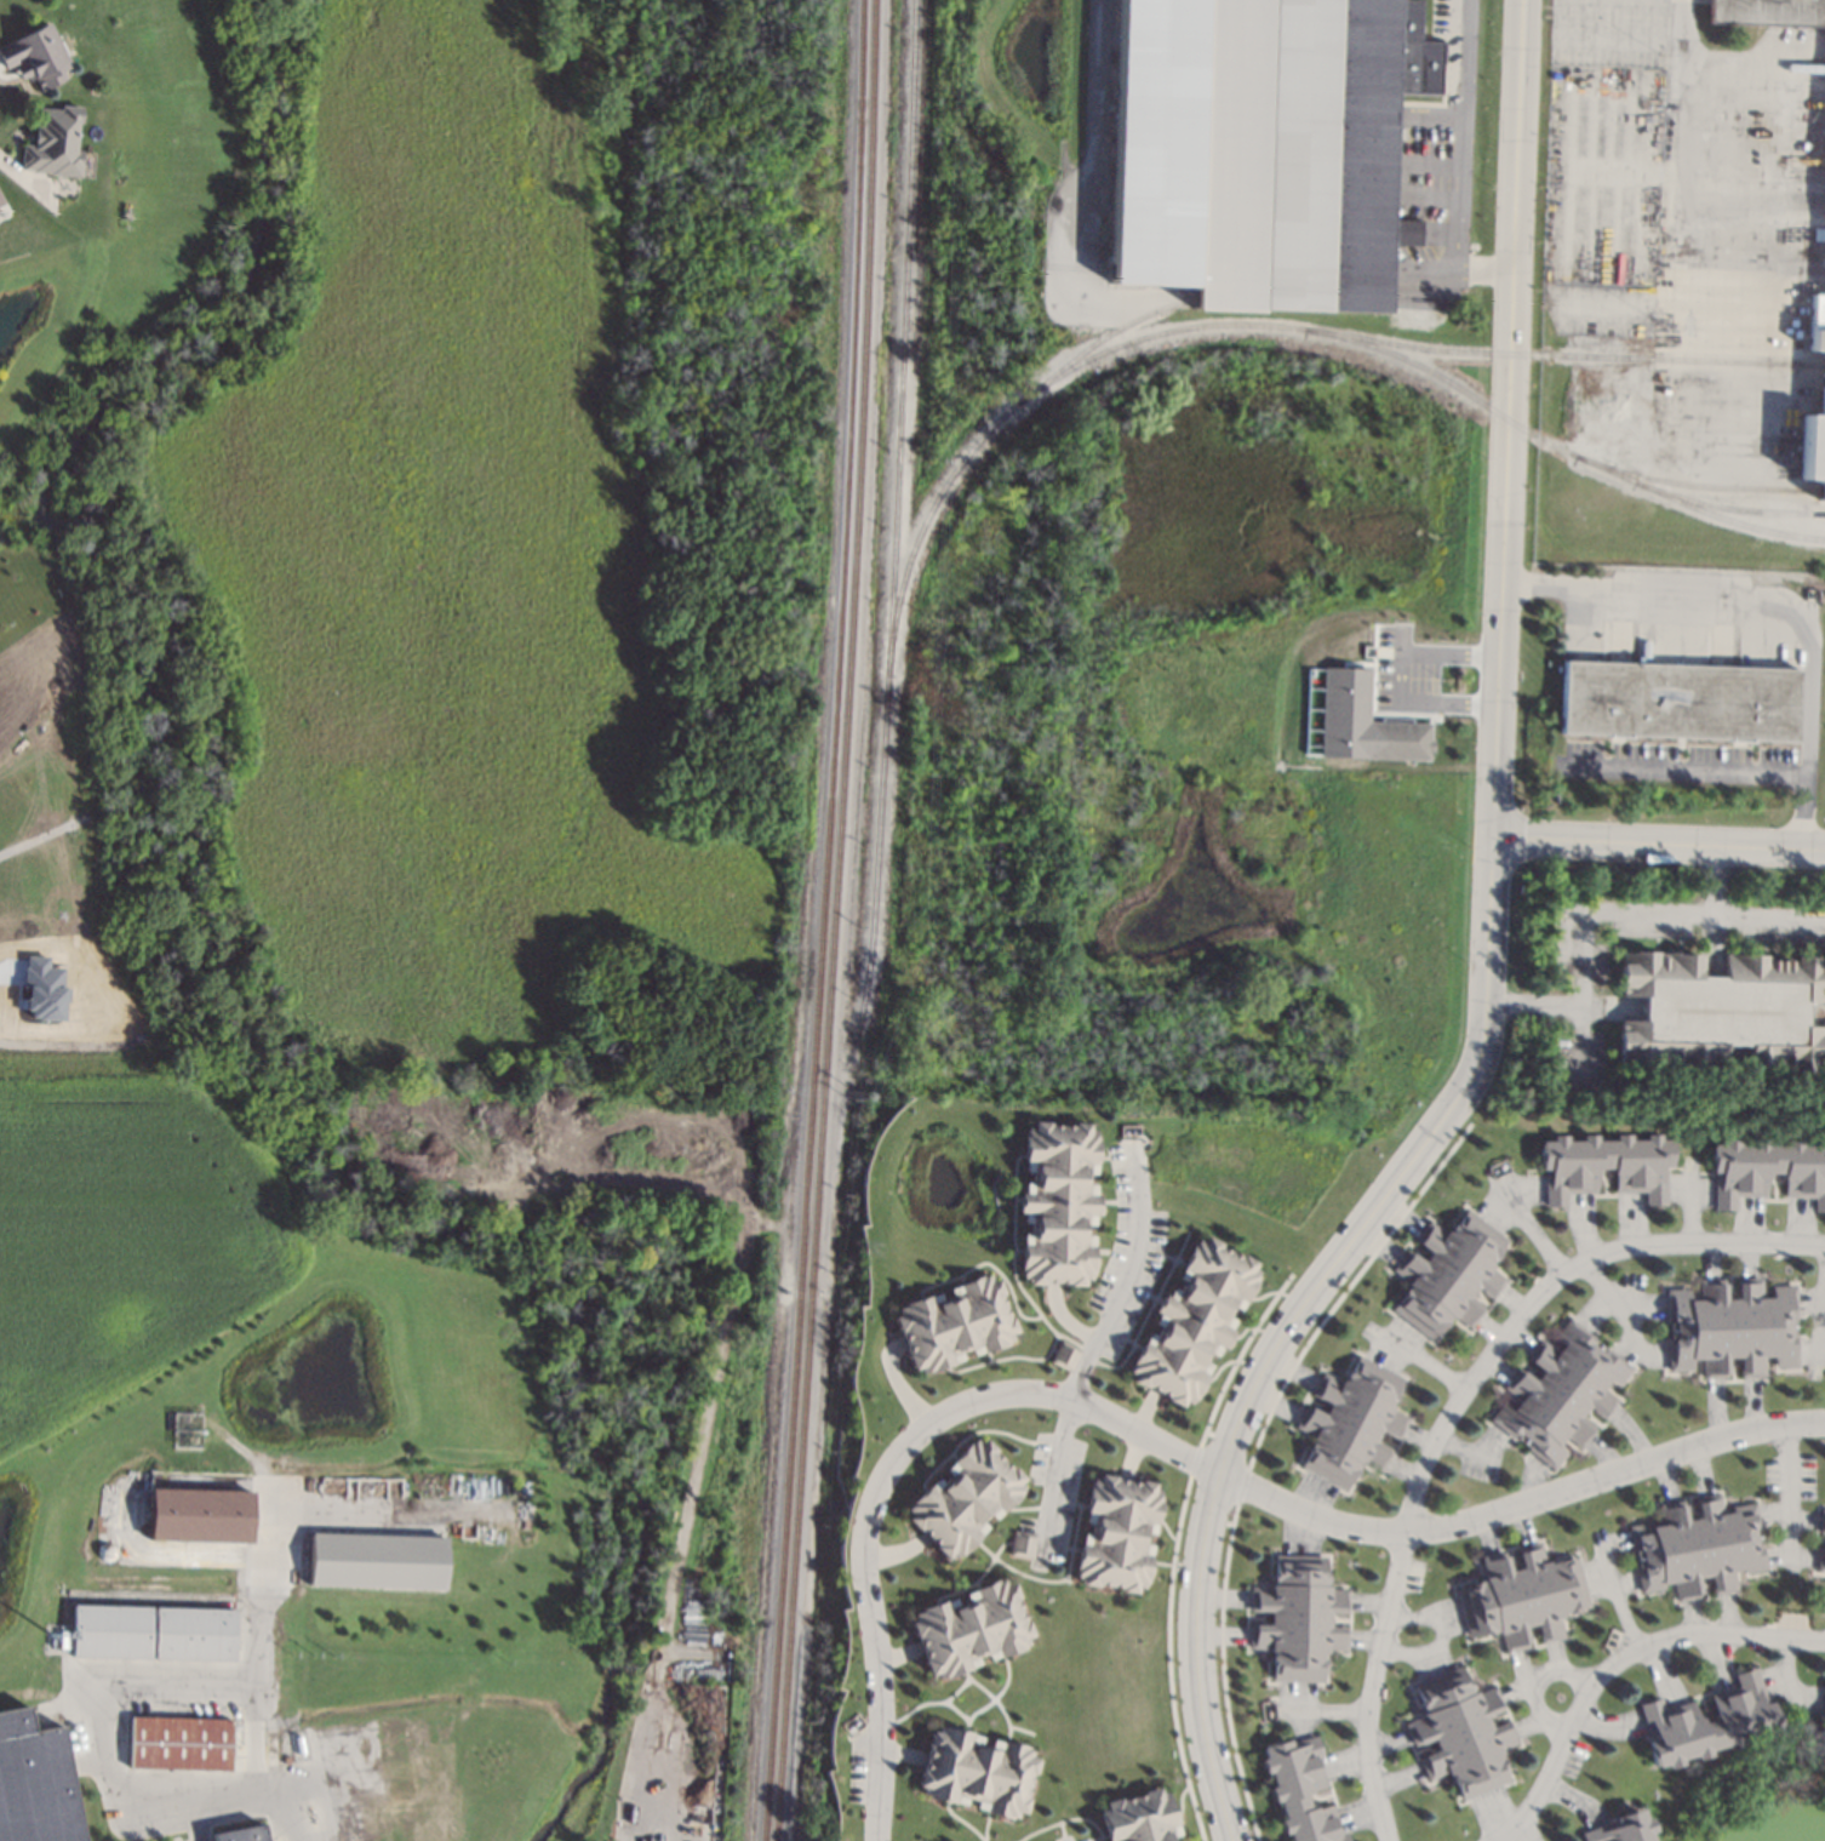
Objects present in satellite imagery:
building: (1768, 11)
railway: (928, 28)
building: (36, 56)
road: (1088, 125)
building: (55, 143)
building: (1262, 147)
road: (1451, 165)
road: (21, 176)
building: (1, 200)
road: (1726, 285)
railway: (1280, 326)
railway: (1097, 341)
railway: (1561, 355)
park: (36, 360)
building: (1823, 382)
railway: (1693, 486)
railway: (1727, 508)
park: (456, 515)
railway: (893, 524)
road: (1770, 600)
road: (1398, 675)
building: (1680, 701)
building: (1396, 741)
road: (1690, 773)
road: (44, 835)
road: (1659, 841)
road: (1595, 913)
road: (1767, 919)
railway: (820, 920)
railway: (833, 920)
road: (1488, 961)
building: (41, 990)
building: (1722, 1012)
building: (1606, 1166)
building: (1768, 1170)
building: (1055, 1203)
road: (1532, 1228)
crop: (126, 1233)
building: (1449, 1274)
road: (1123, 1281)
road: (1626, 1313)
building: (1192, 1321)
building: (952, 1323)
building: (1733, 1328)
building: (1062, 1356)
road: (1420, 1357)
building: (1561, 1395)
road: (1453, 1411)
building: (1352, 1422)
building: (187, 1430)
road: (888, 1469)
road: (1054, 1475)
road: (1786, 1491)
building: (965, 1499)
road: (1521, 1508)
building: (201, 1515)
building: (1823, 1520)
building: (1117, 1533)
building: (1022, 1543)
building: (1695, 1548)
building: (377, 1559)
building: (1821, 1559)
building: (1523, 1596)
building: (1298, 1618)
building: (971, 1630)
building: (154, 1633)
building: (63, 1641)
road: (1615, 1664)
road: (1533, 1681)
building: (1707, 1723)
building: (1821, 1723)
building: (1461, 1733)
building: (181, 1743)
building: (288, 1759)
building: (977, 1772)
building: (35, 1782)
building: (1301, 1790)
building: (1139, 1818)
road: (293, 1823)
building: (1621, 1829)
building: (240, 1833)
road: (1532, 1833)

